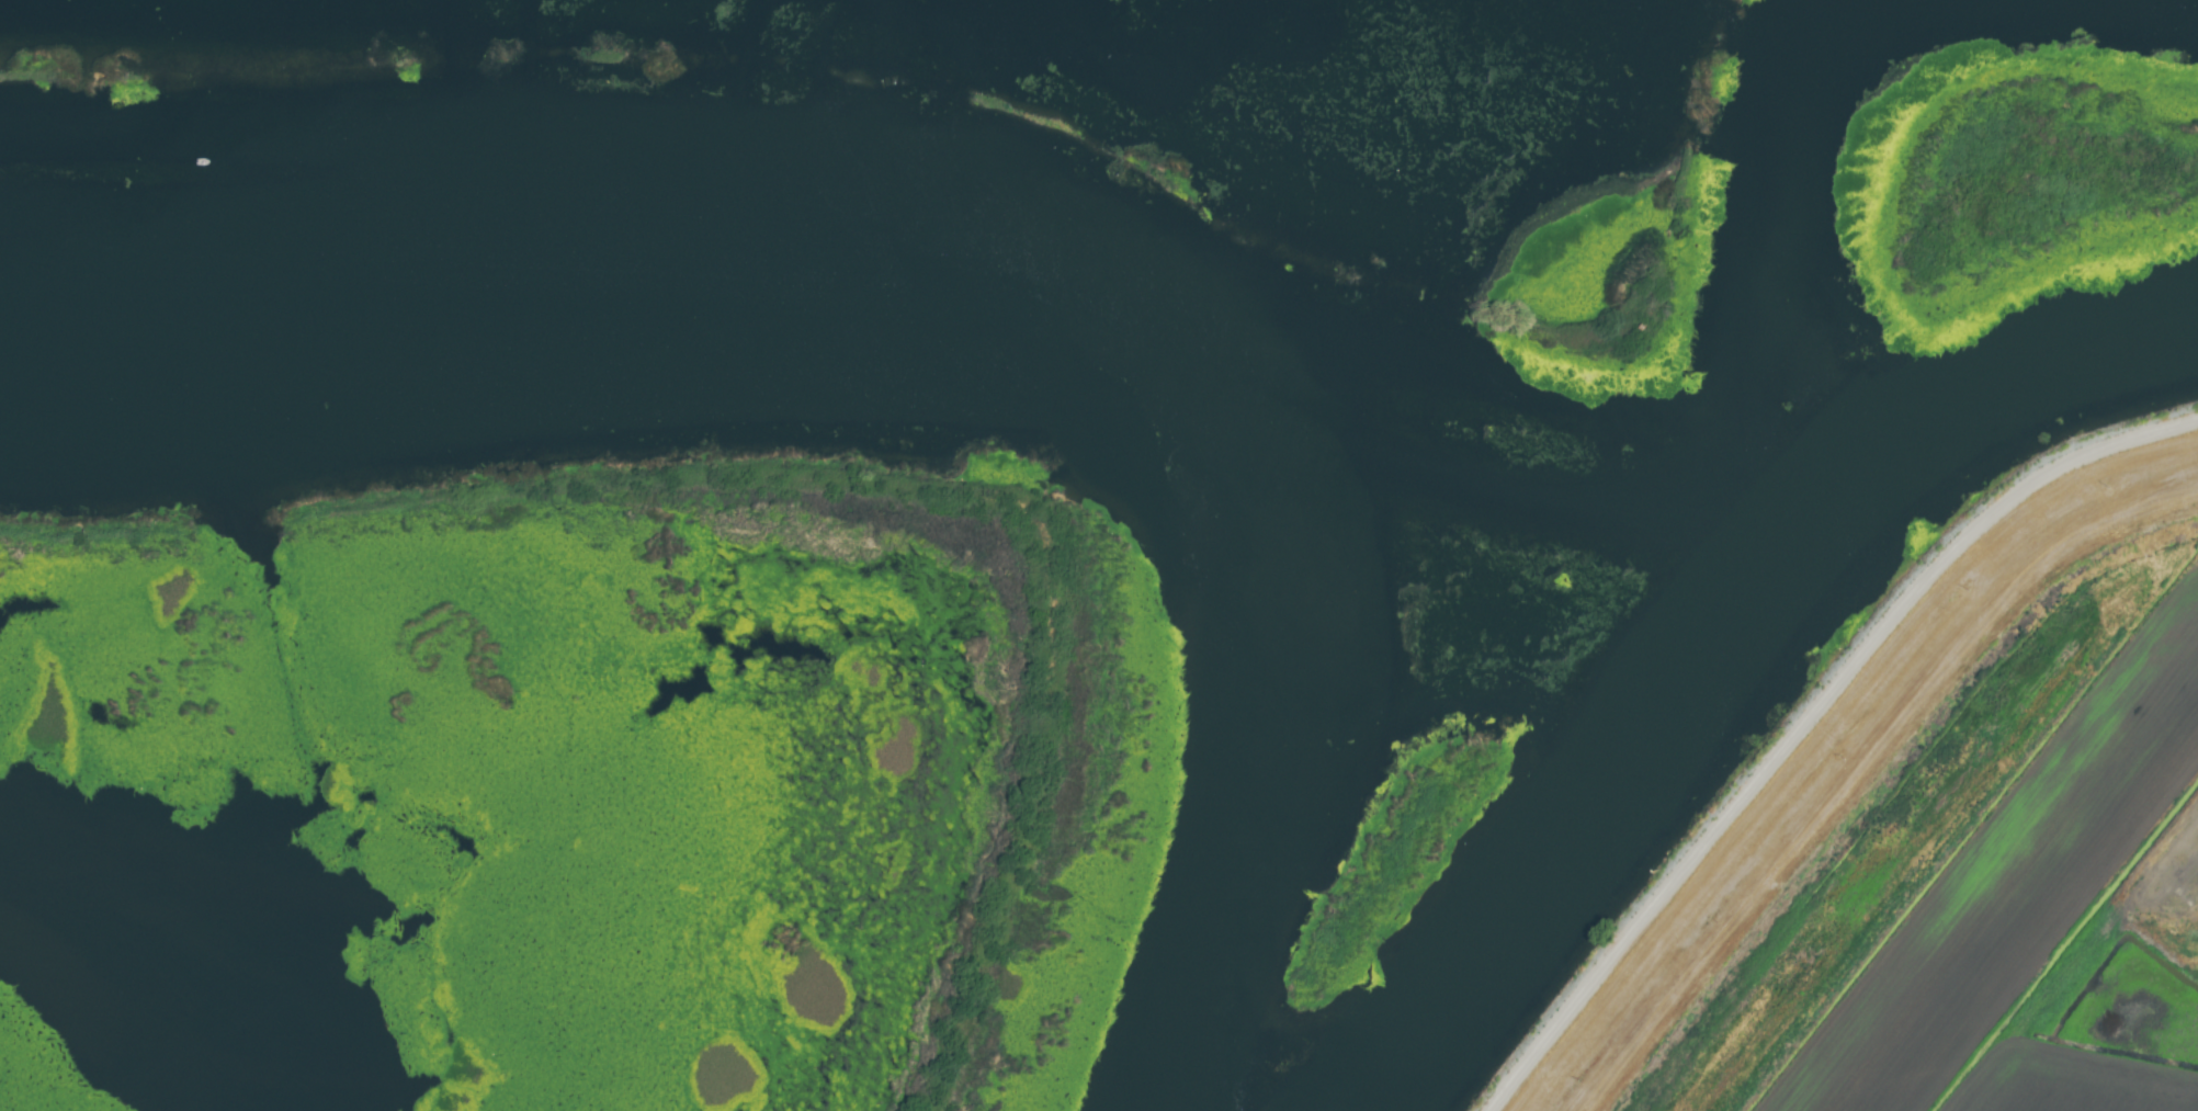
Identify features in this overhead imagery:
river: (1677, 591)
road: (1802, 714)
crop: (1980, 887)

